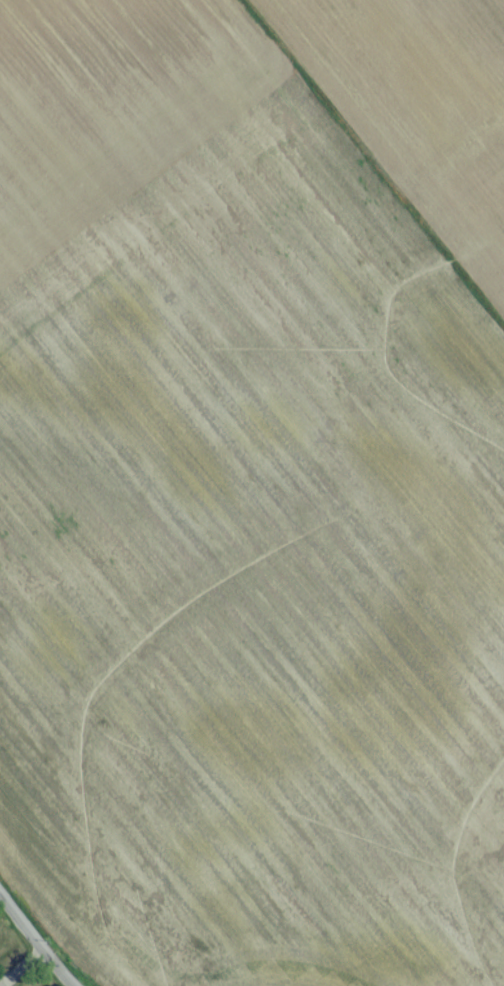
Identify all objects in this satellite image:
road: (34, 943)

